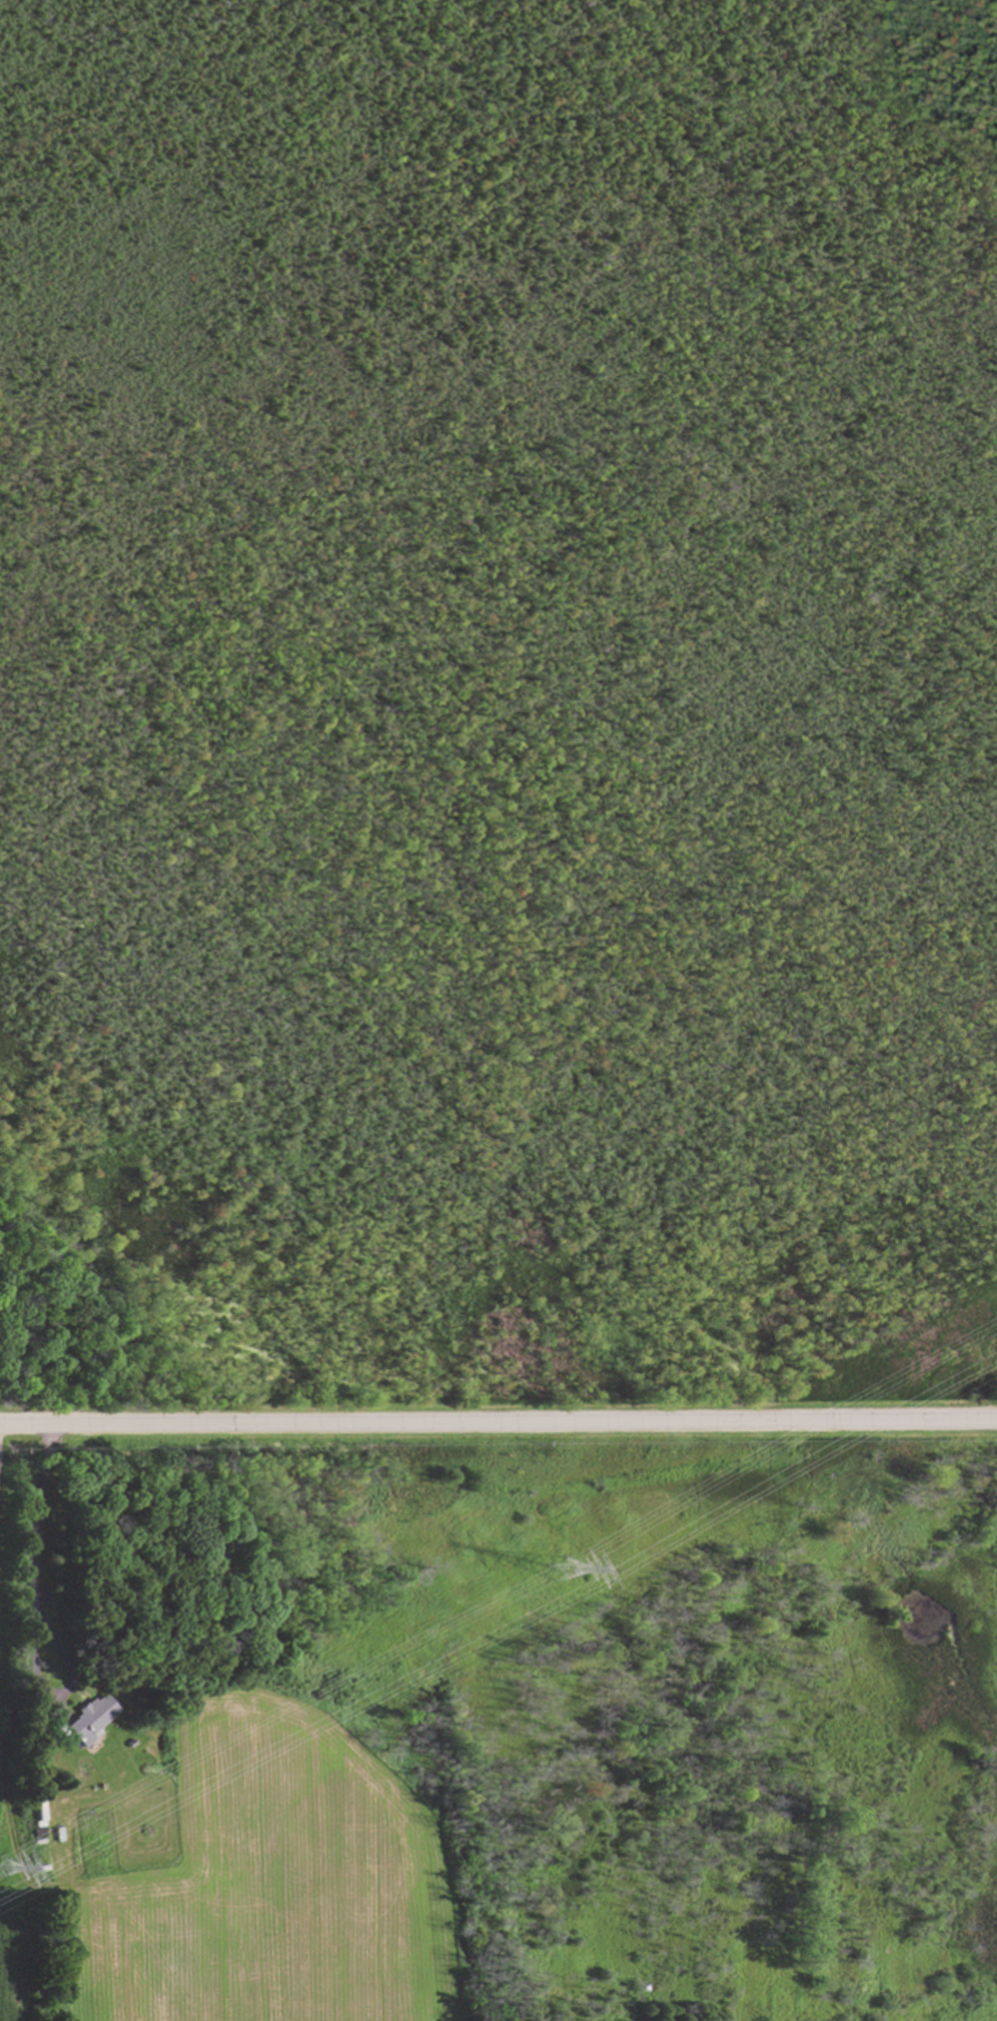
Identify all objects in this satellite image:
road: (498, 1418)
power tower: (559, 1562)
road: (34, 1617)
building: (91, 1719)
building: (38, 1808)
power tower: (0, 1868)

